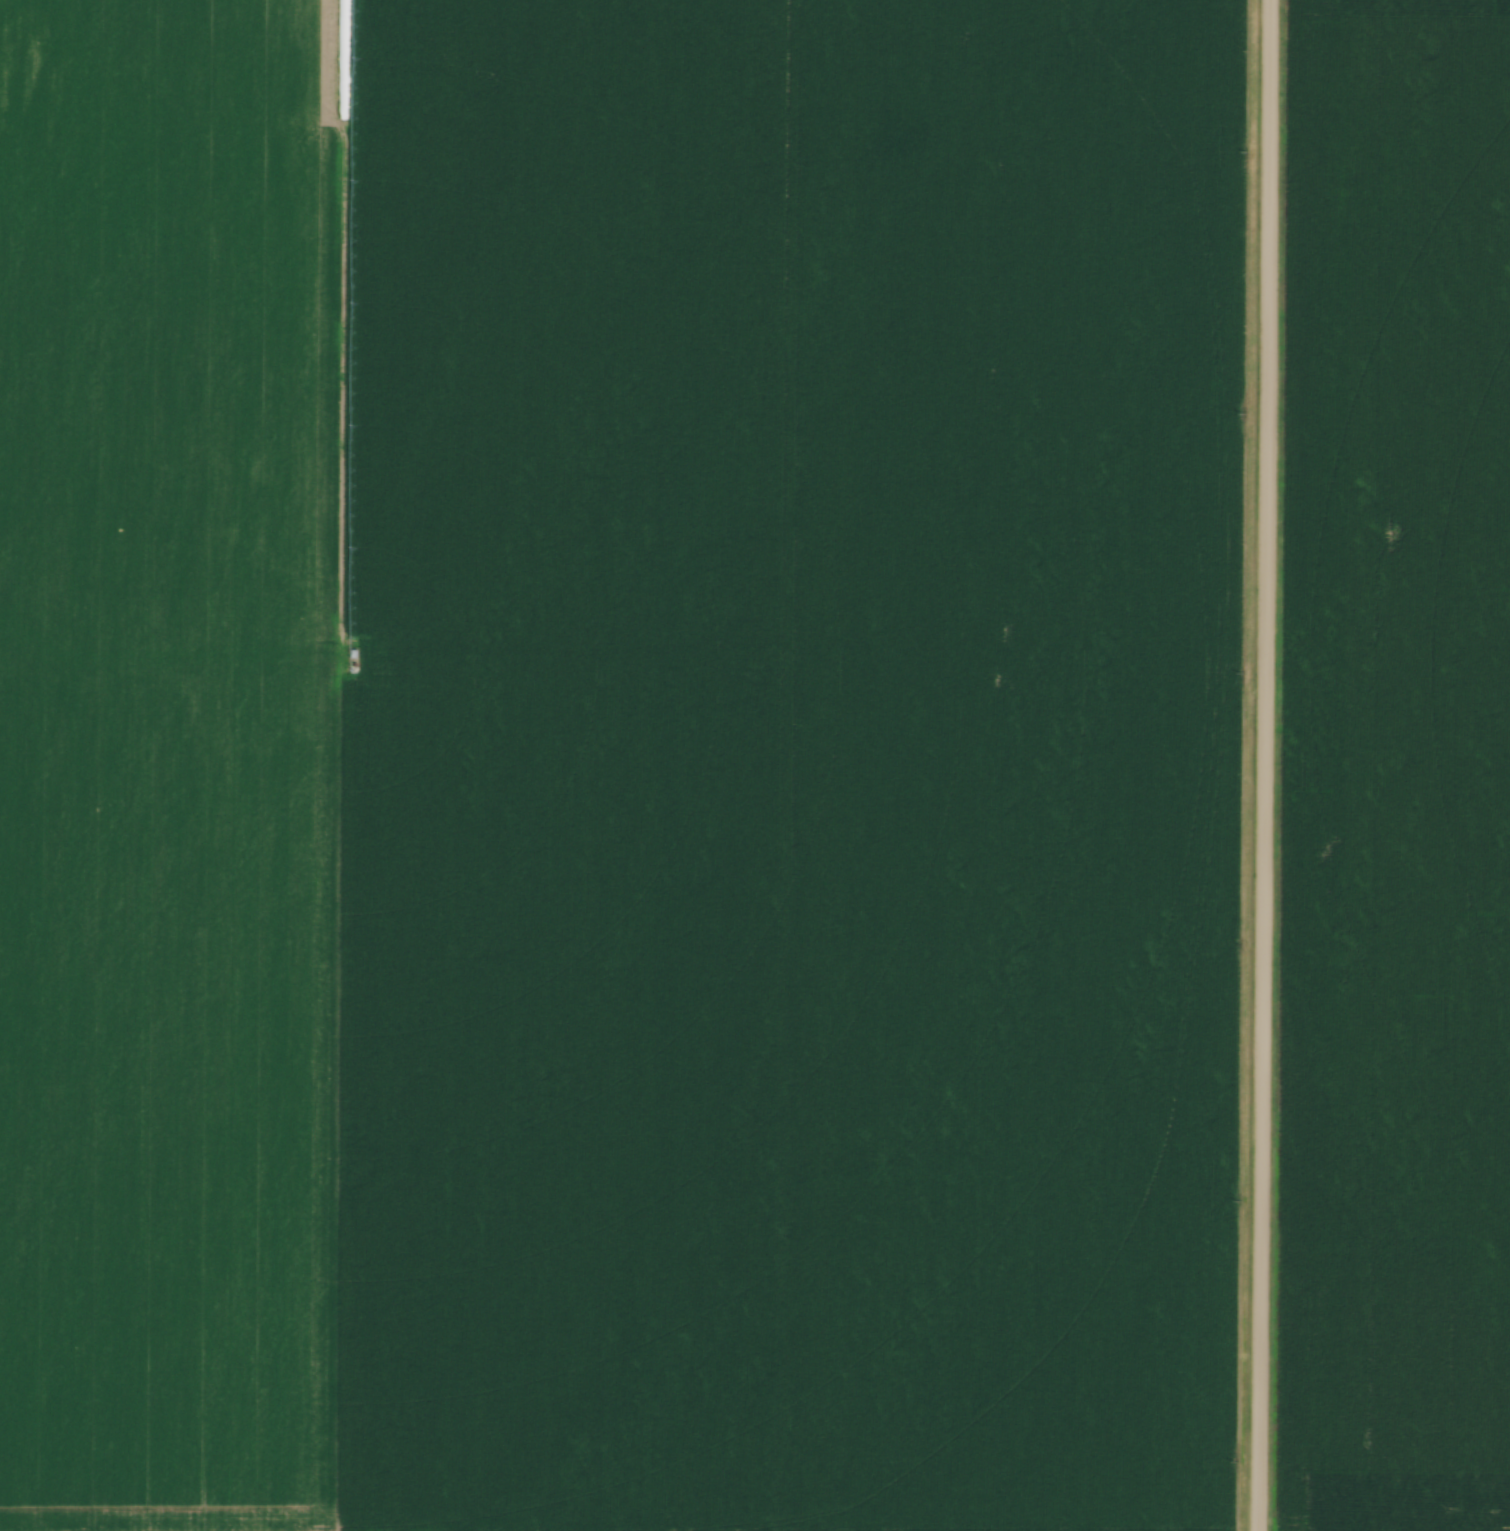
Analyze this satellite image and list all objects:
road: (1258, 765)

